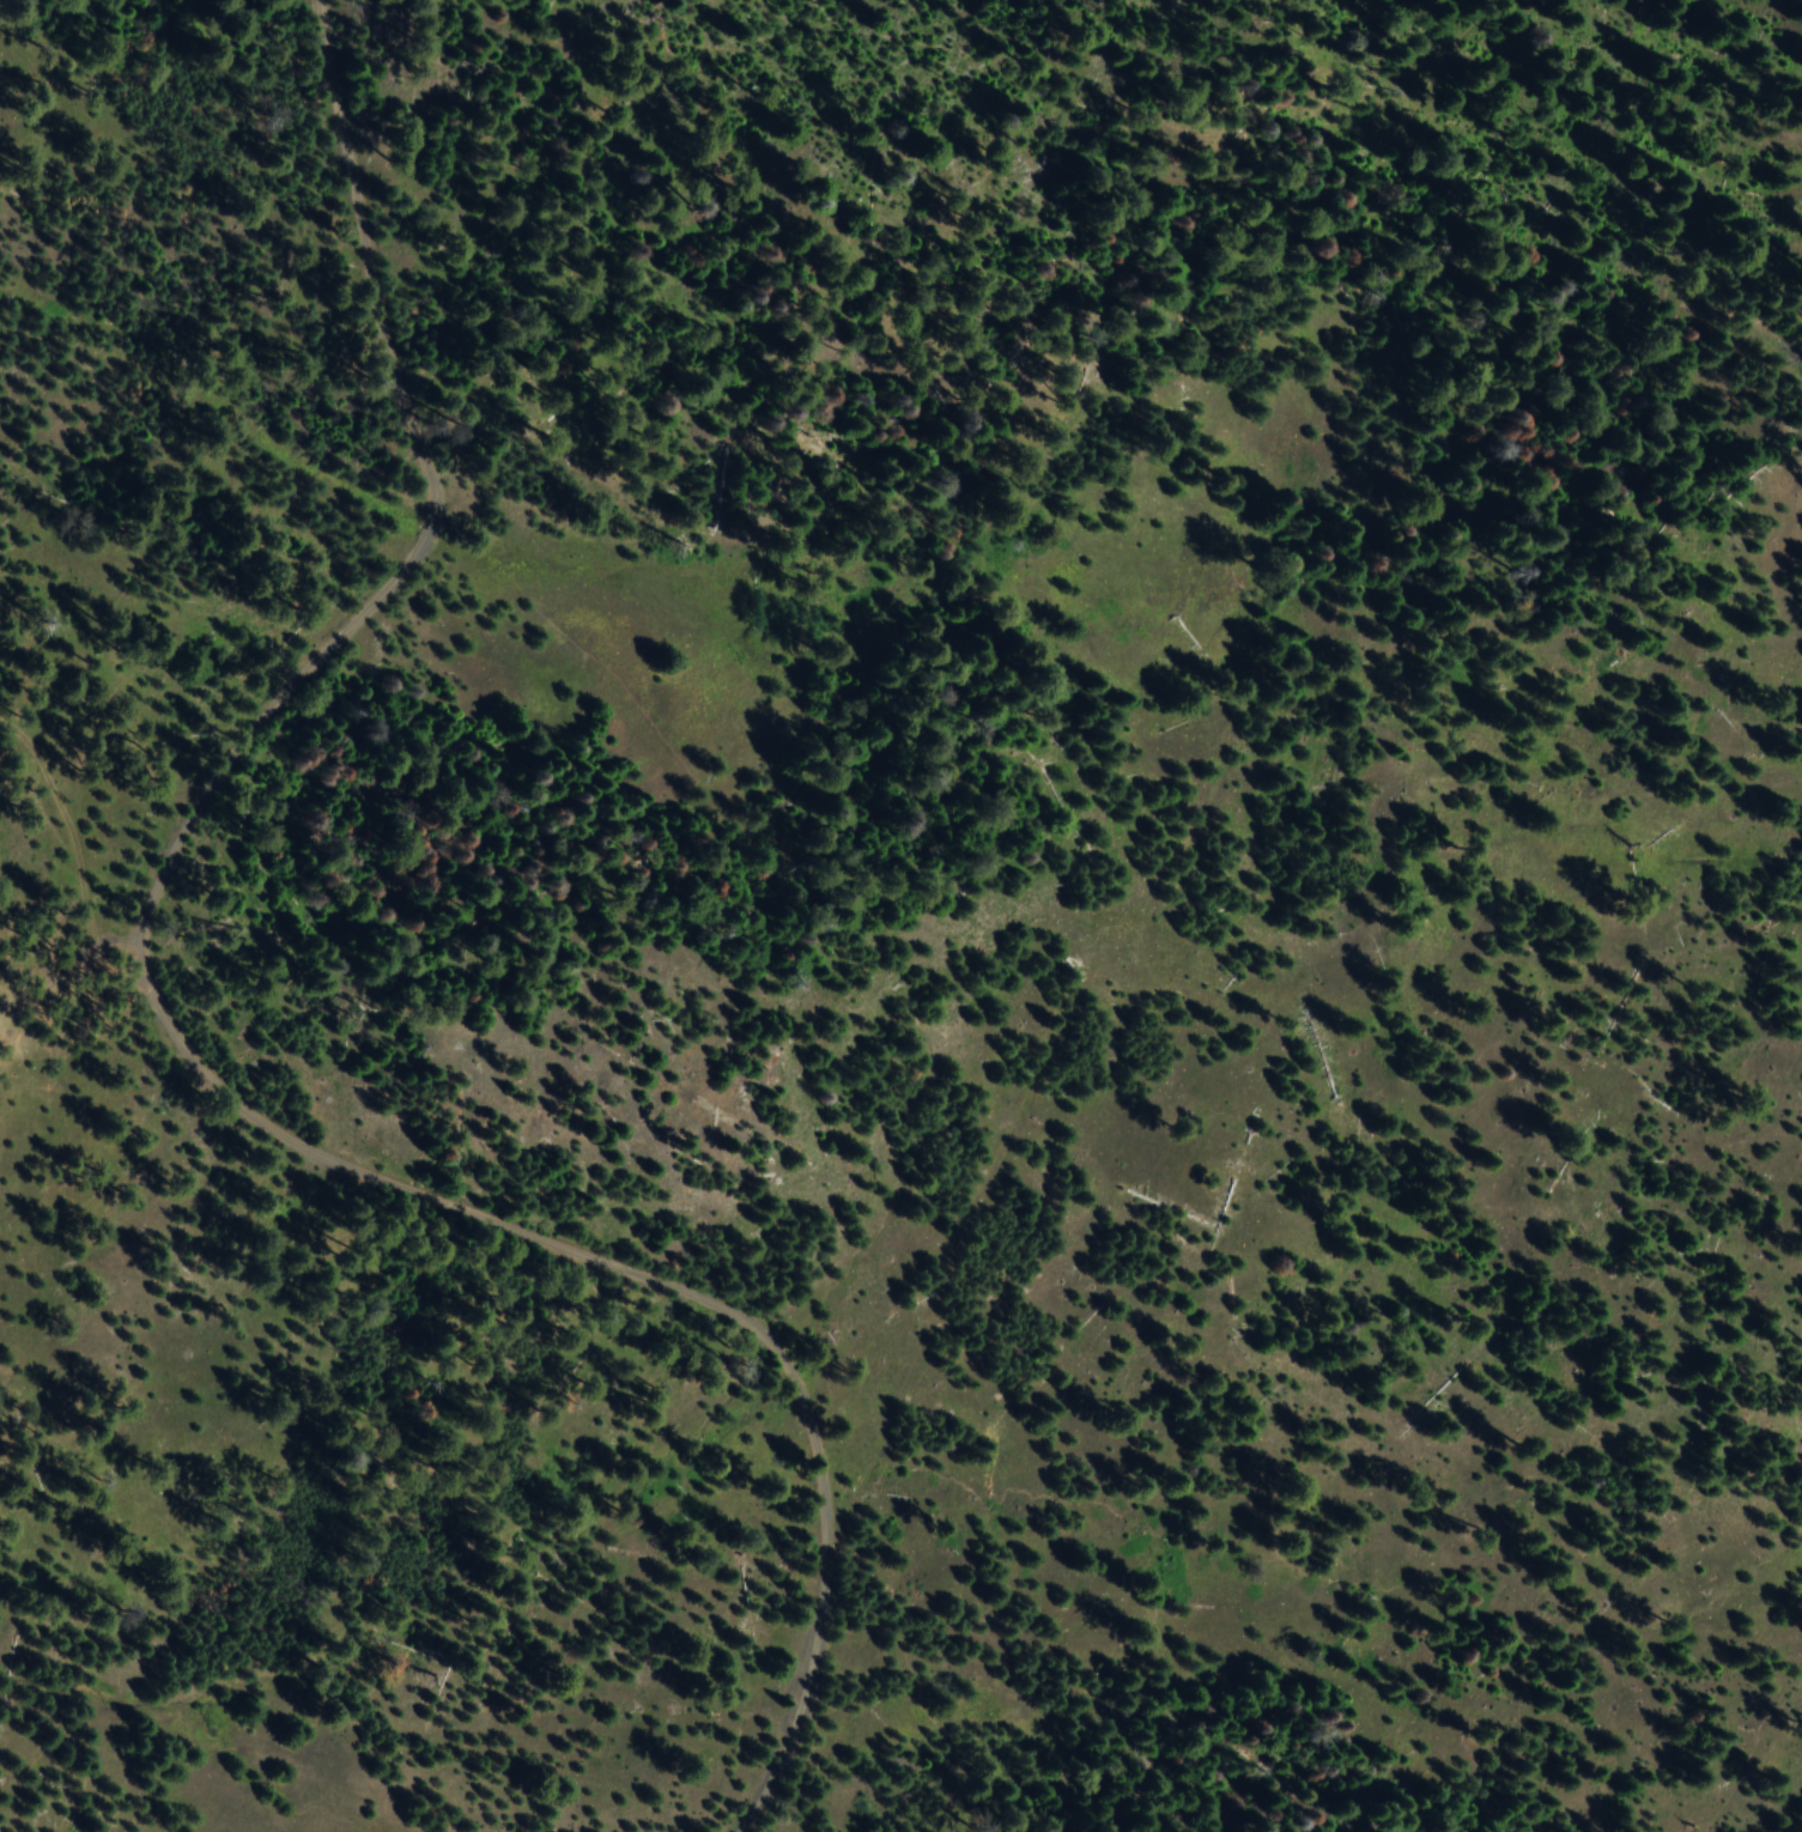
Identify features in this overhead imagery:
road: (156, 993)

